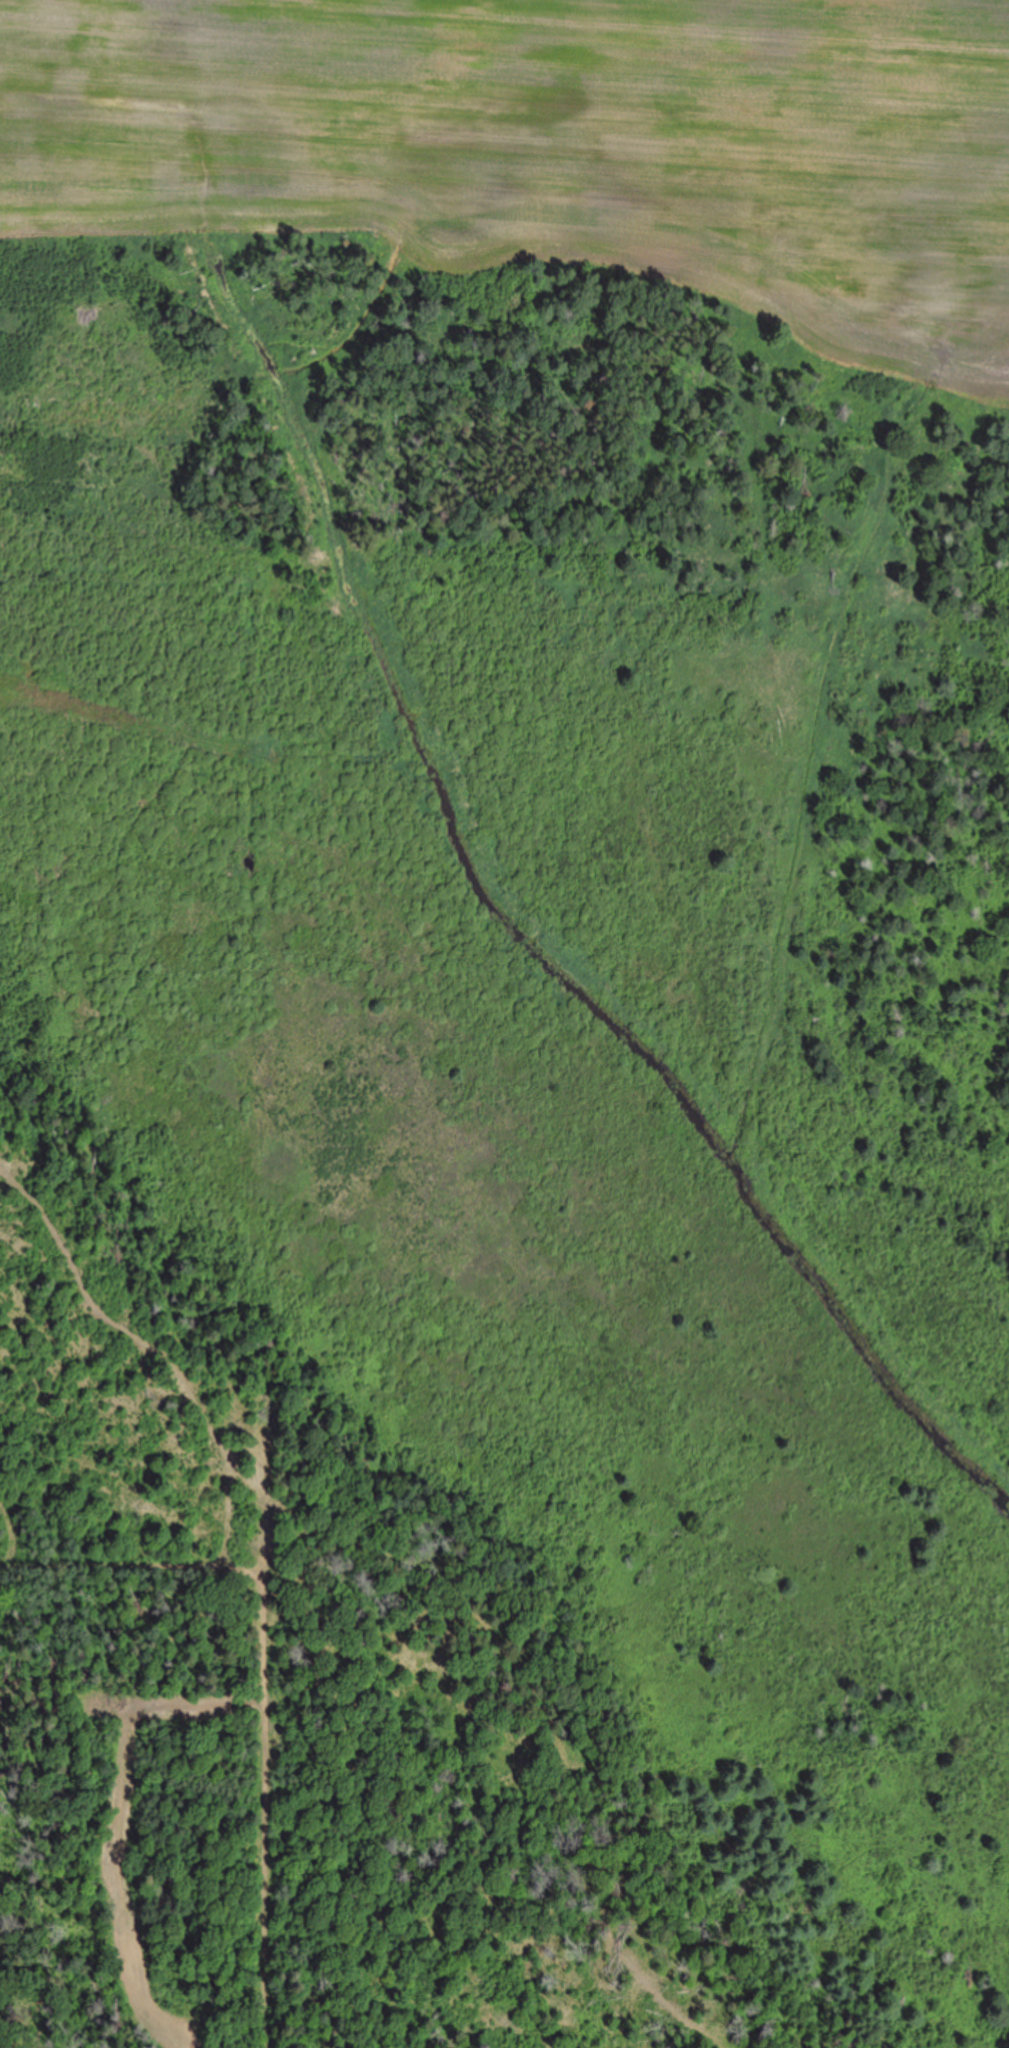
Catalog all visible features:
road: (251, 1693)

